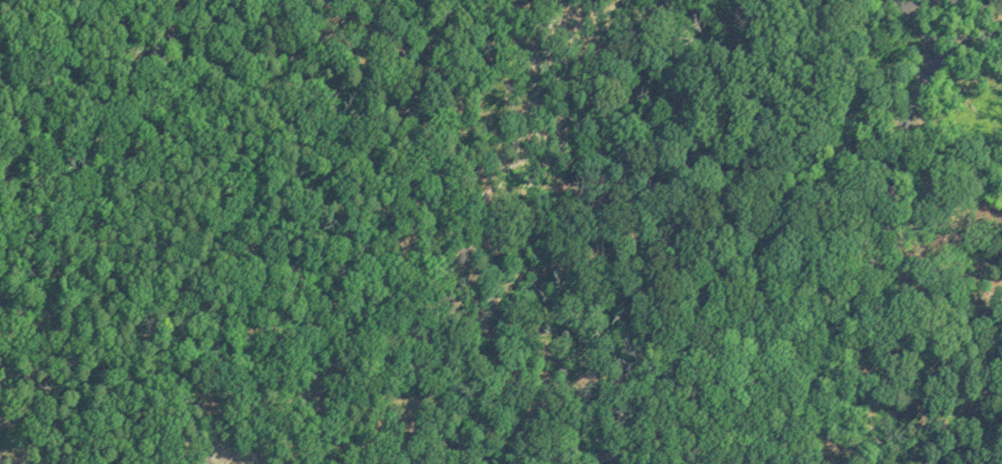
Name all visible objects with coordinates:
road: (994, 1)
road: (918, 31)
road: (505, 38)
road: (872, 236)
road: (934, 266)

